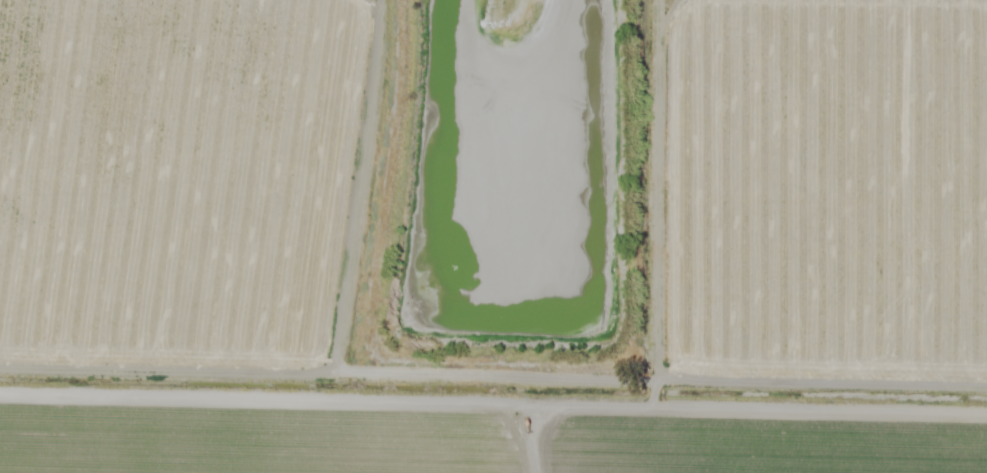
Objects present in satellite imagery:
crop: (177, 183)

